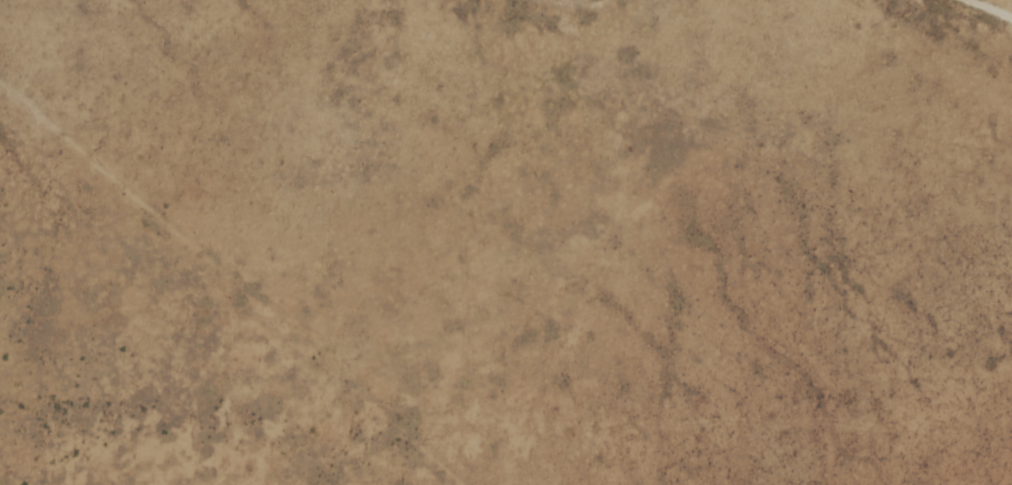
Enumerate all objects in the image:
road: (989, 9)

